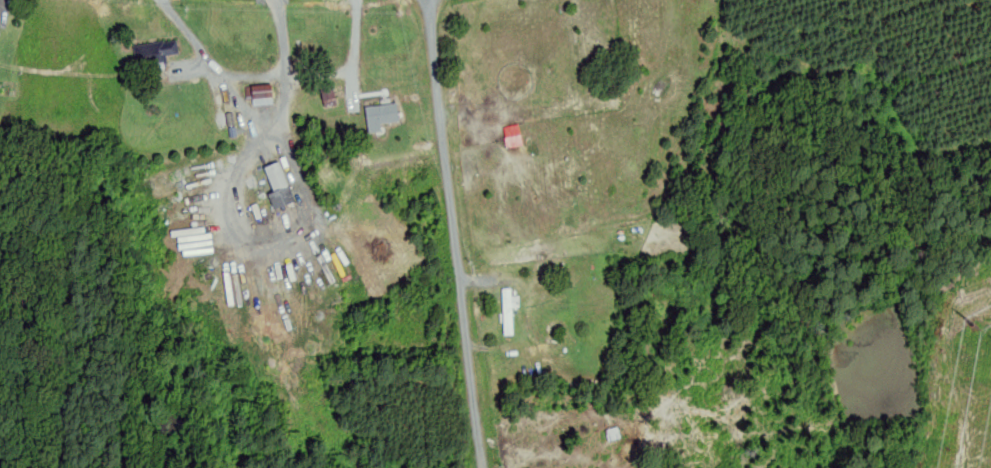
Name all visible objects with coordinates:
building: (0, 19)
building: (152, 54)
road: (314, 76)
road: (228, 87)
building: (258, 94)
building: (328, 94)
building: (380, 113)
building: (513, 134)
building: (276, 186)
road: (455, 234)
building: (506, 309)
power tower: (973, 323)

